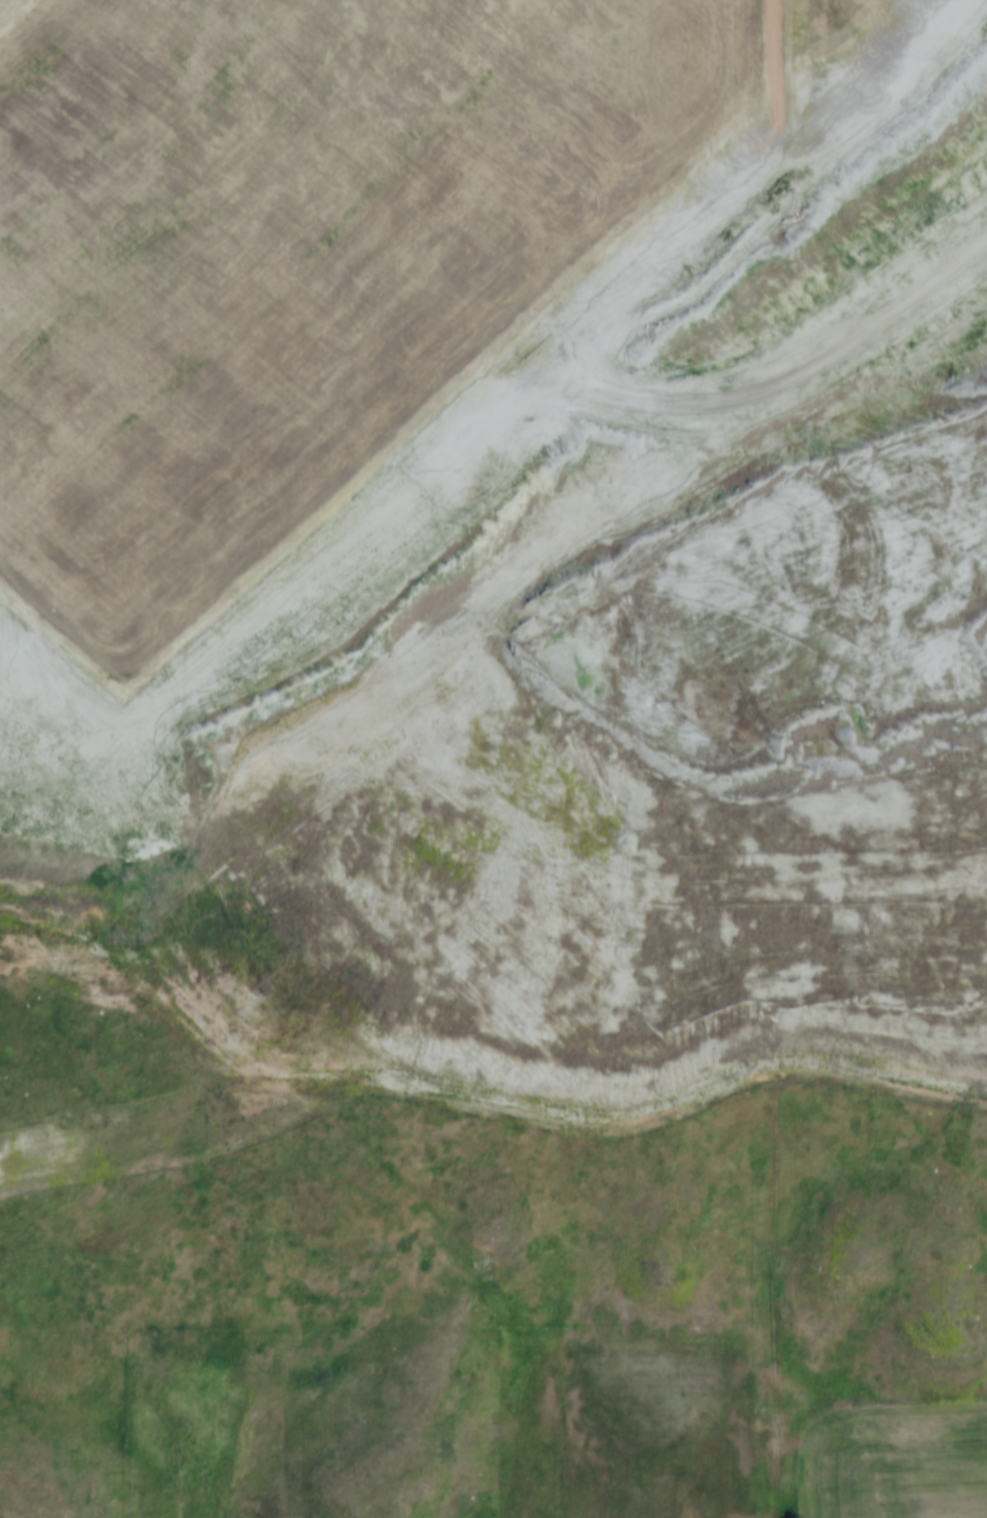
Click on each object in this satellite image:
road: (773, 758)

